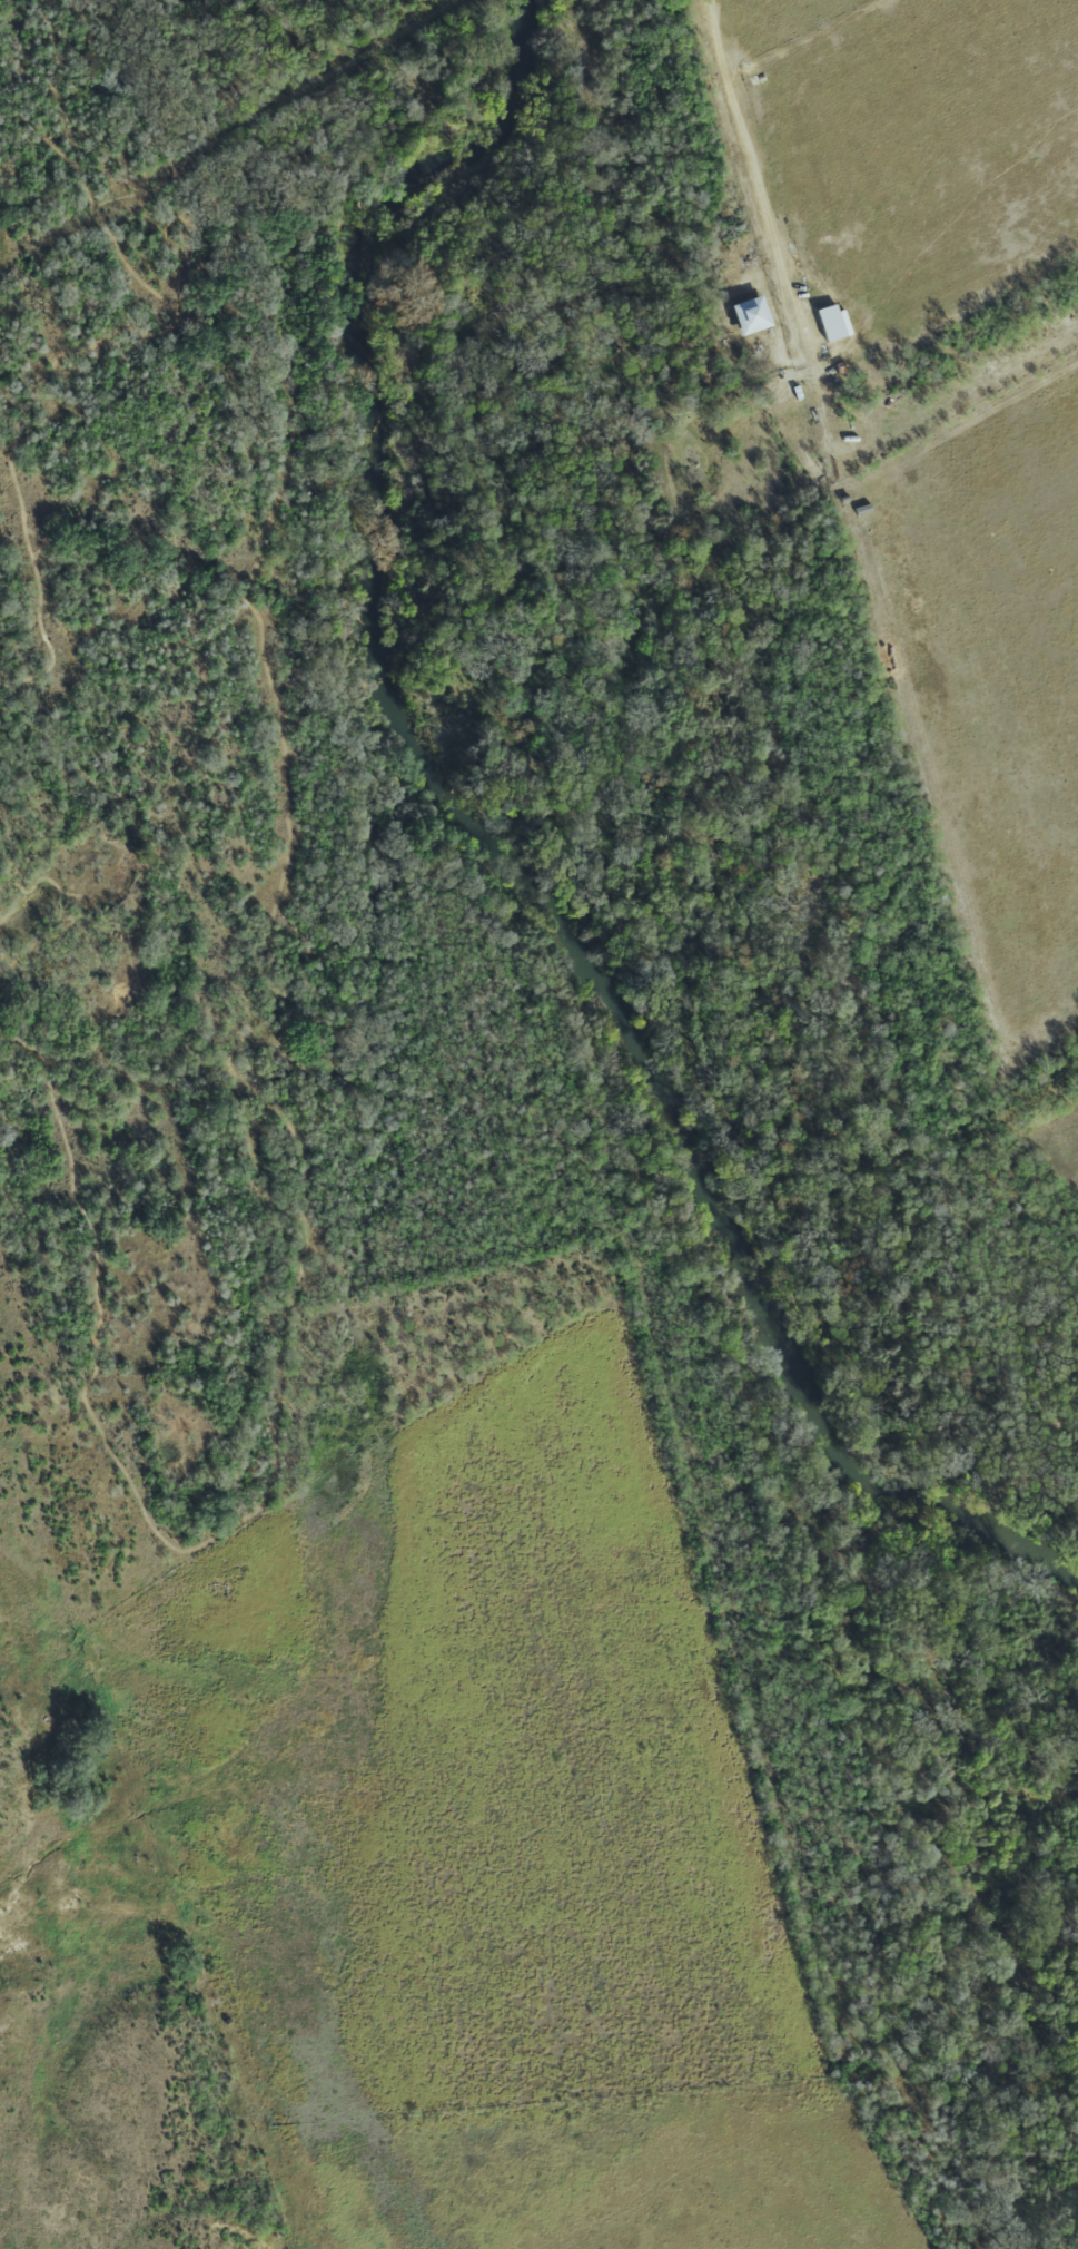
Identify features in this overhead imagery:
river: (496, 854)

